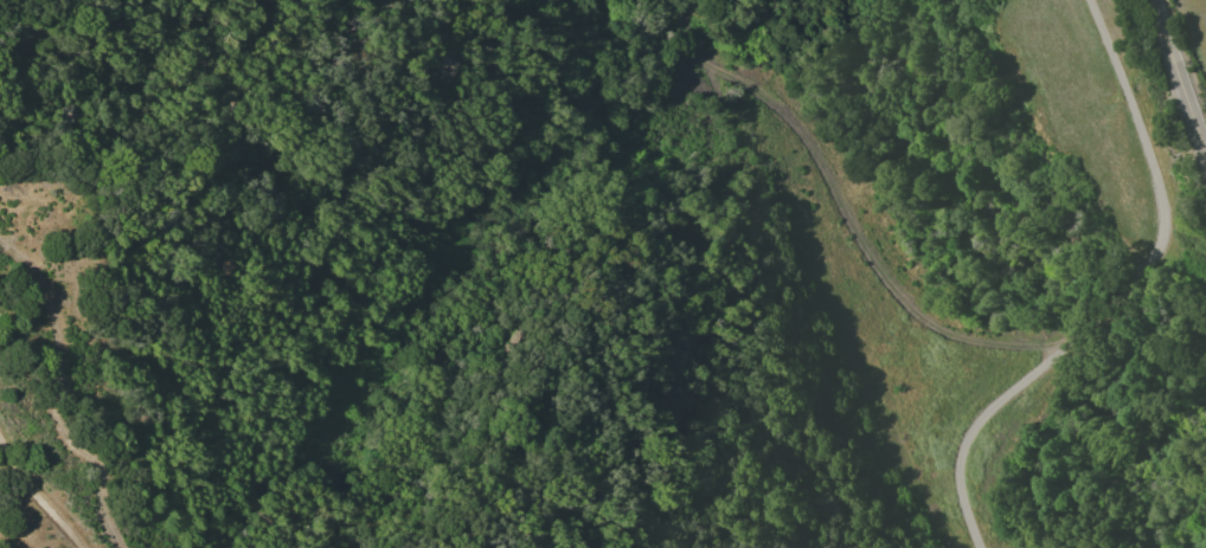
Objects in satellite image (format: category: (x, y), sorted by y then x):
road: (1173, 94)
road: (1116, 297)
road: (39, 494)

